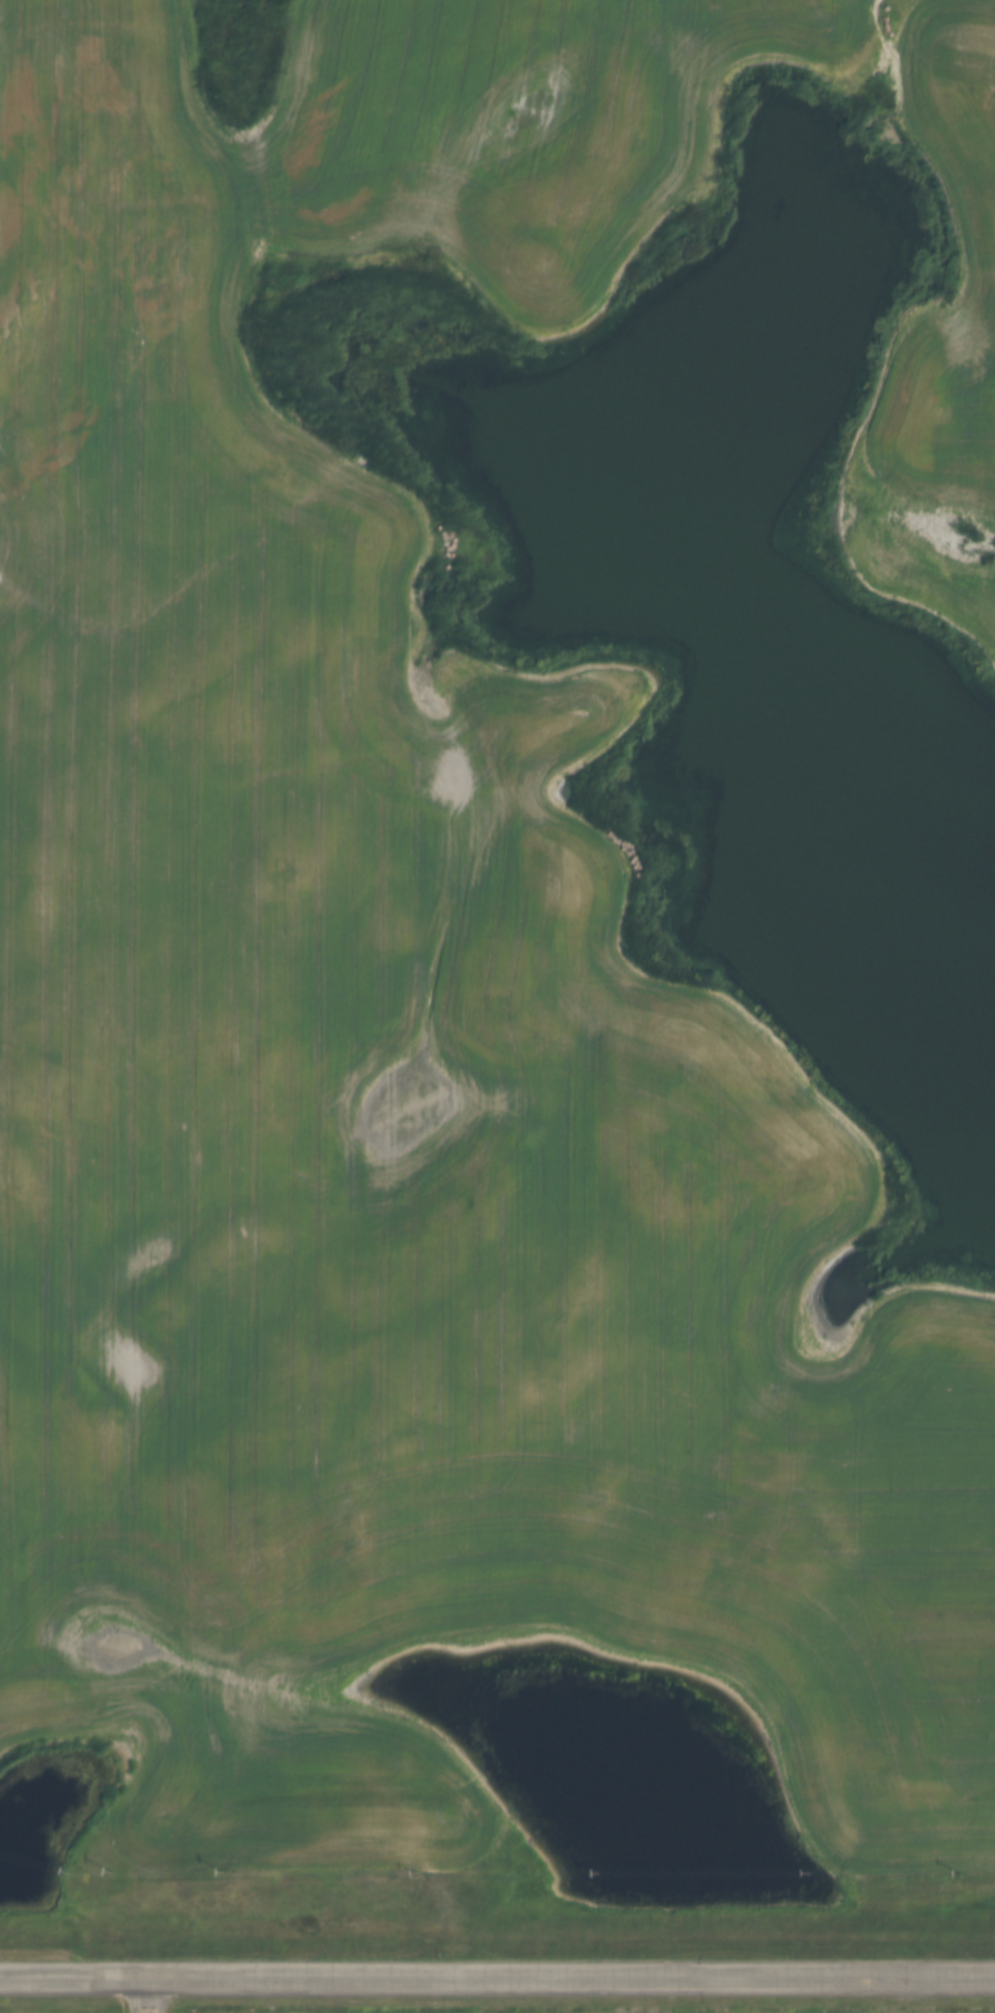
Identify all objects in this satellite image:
road: (497, 1980)
road: (144, 1995)

